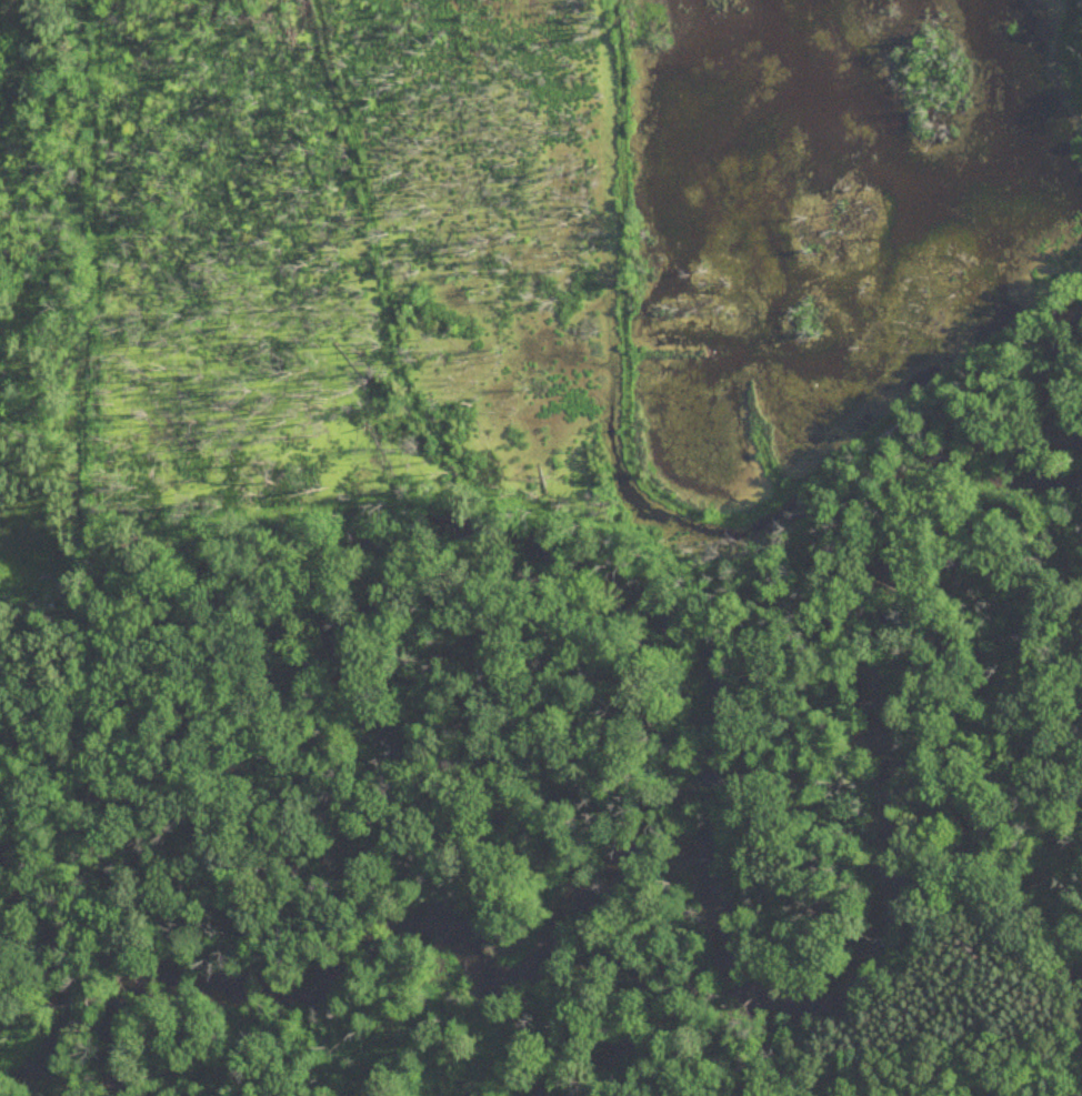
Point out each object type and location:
river: (708, 808)
river: (327, 976)
river: (19, 988)

